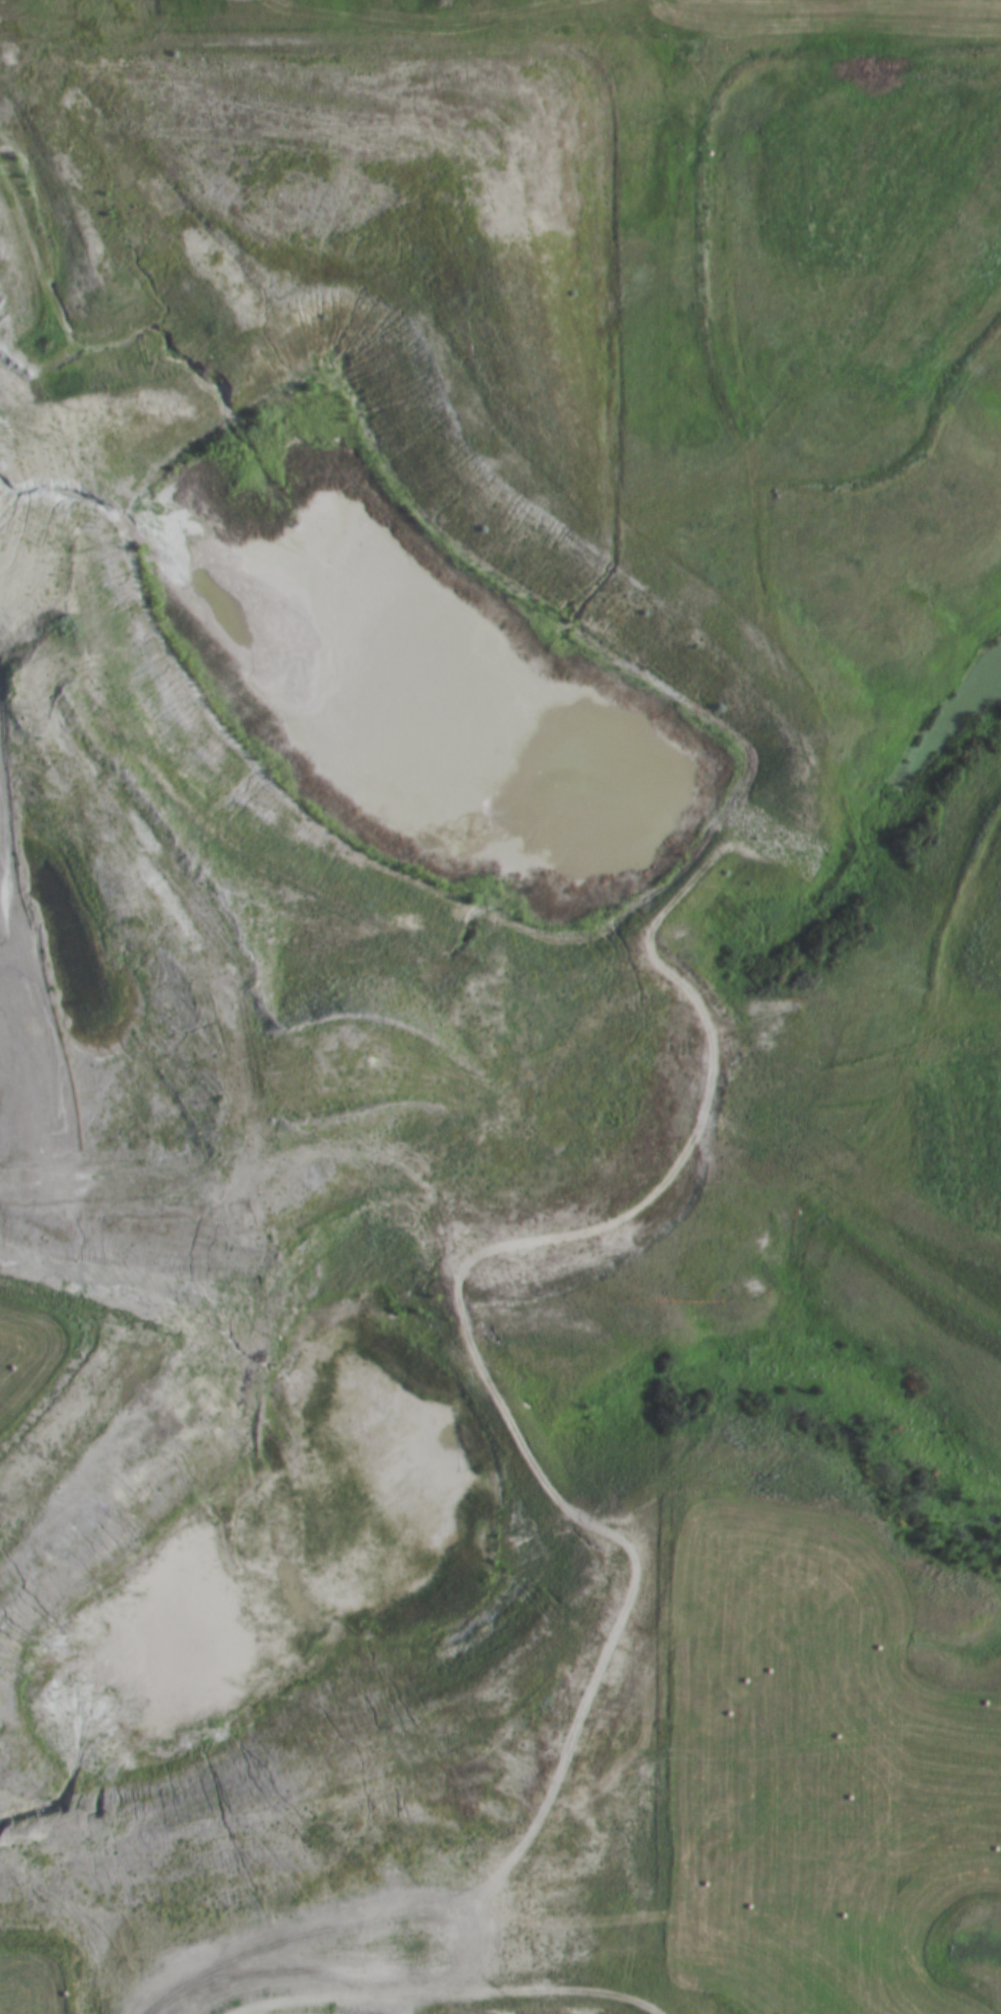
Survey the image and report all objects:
road: (645, 1)

